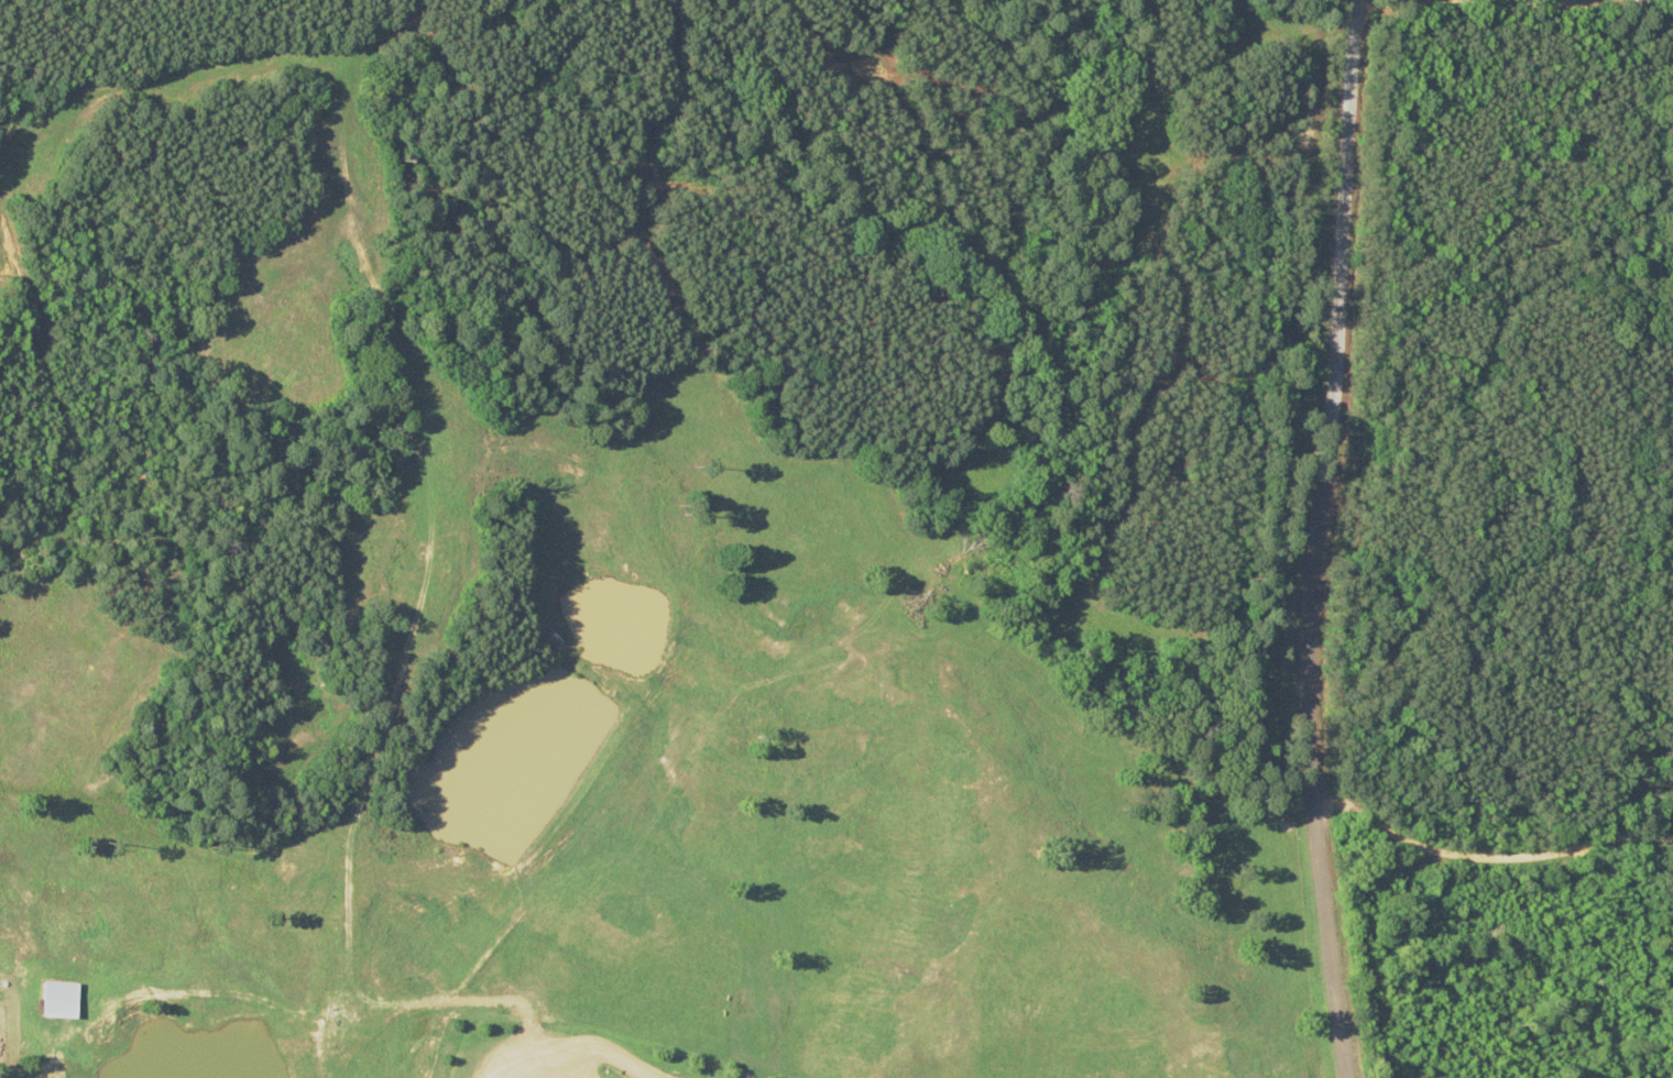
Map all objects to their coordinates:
road: (1508, 2)
road: (1366, 9)
road: (1320, 539)
road: (1488, 858)
building: (42, 1000)

